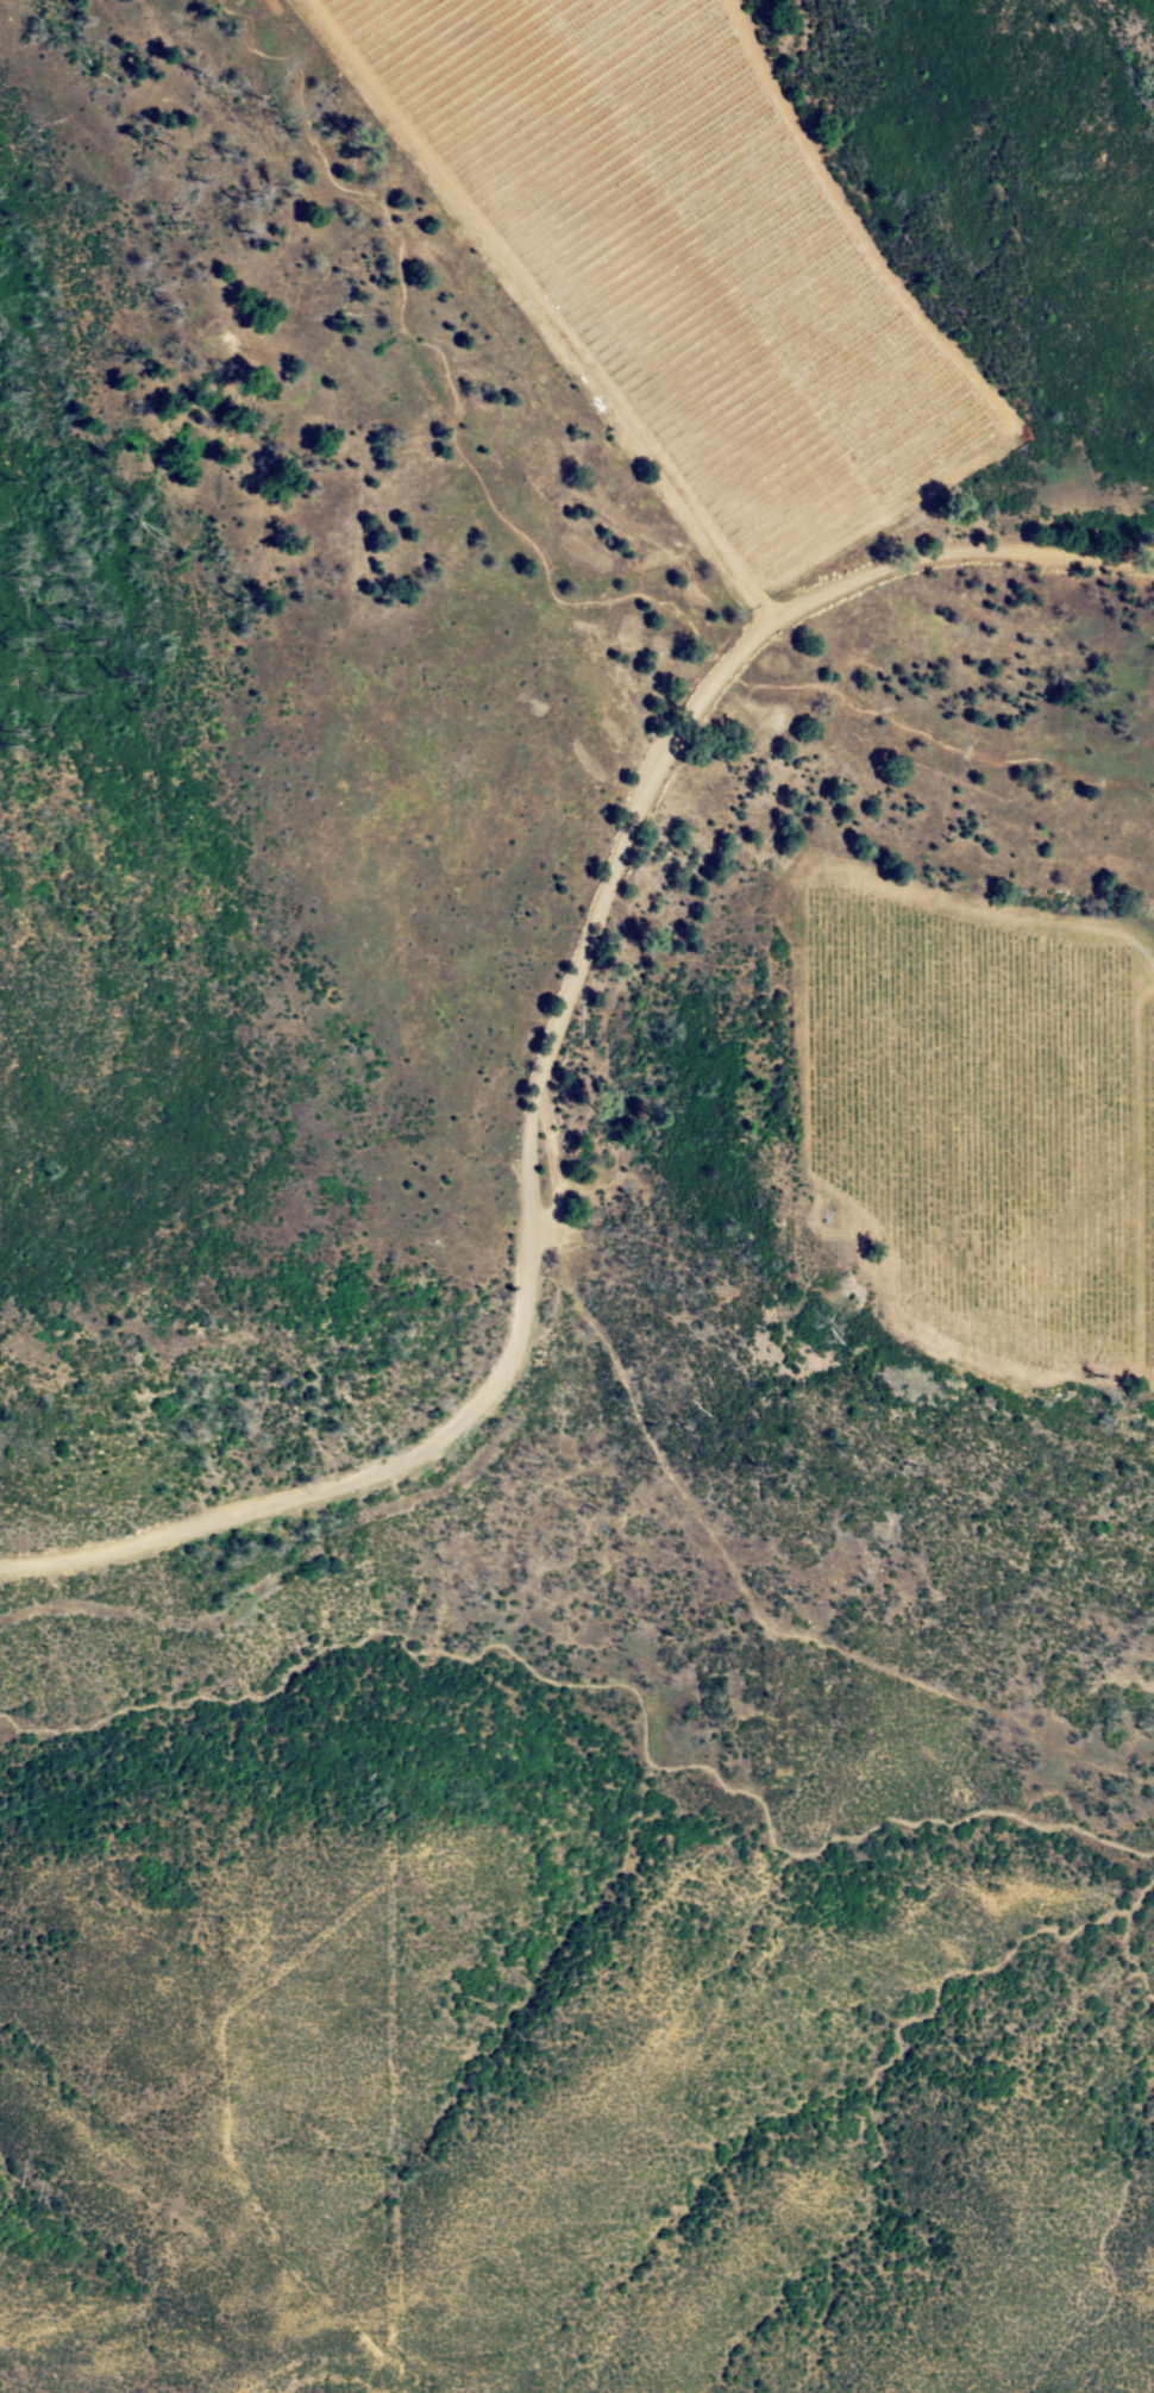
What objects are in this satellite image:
road: (491, 284)
road: (551, 1050)
road: (1150, 1790)
road: (332, 2379)

